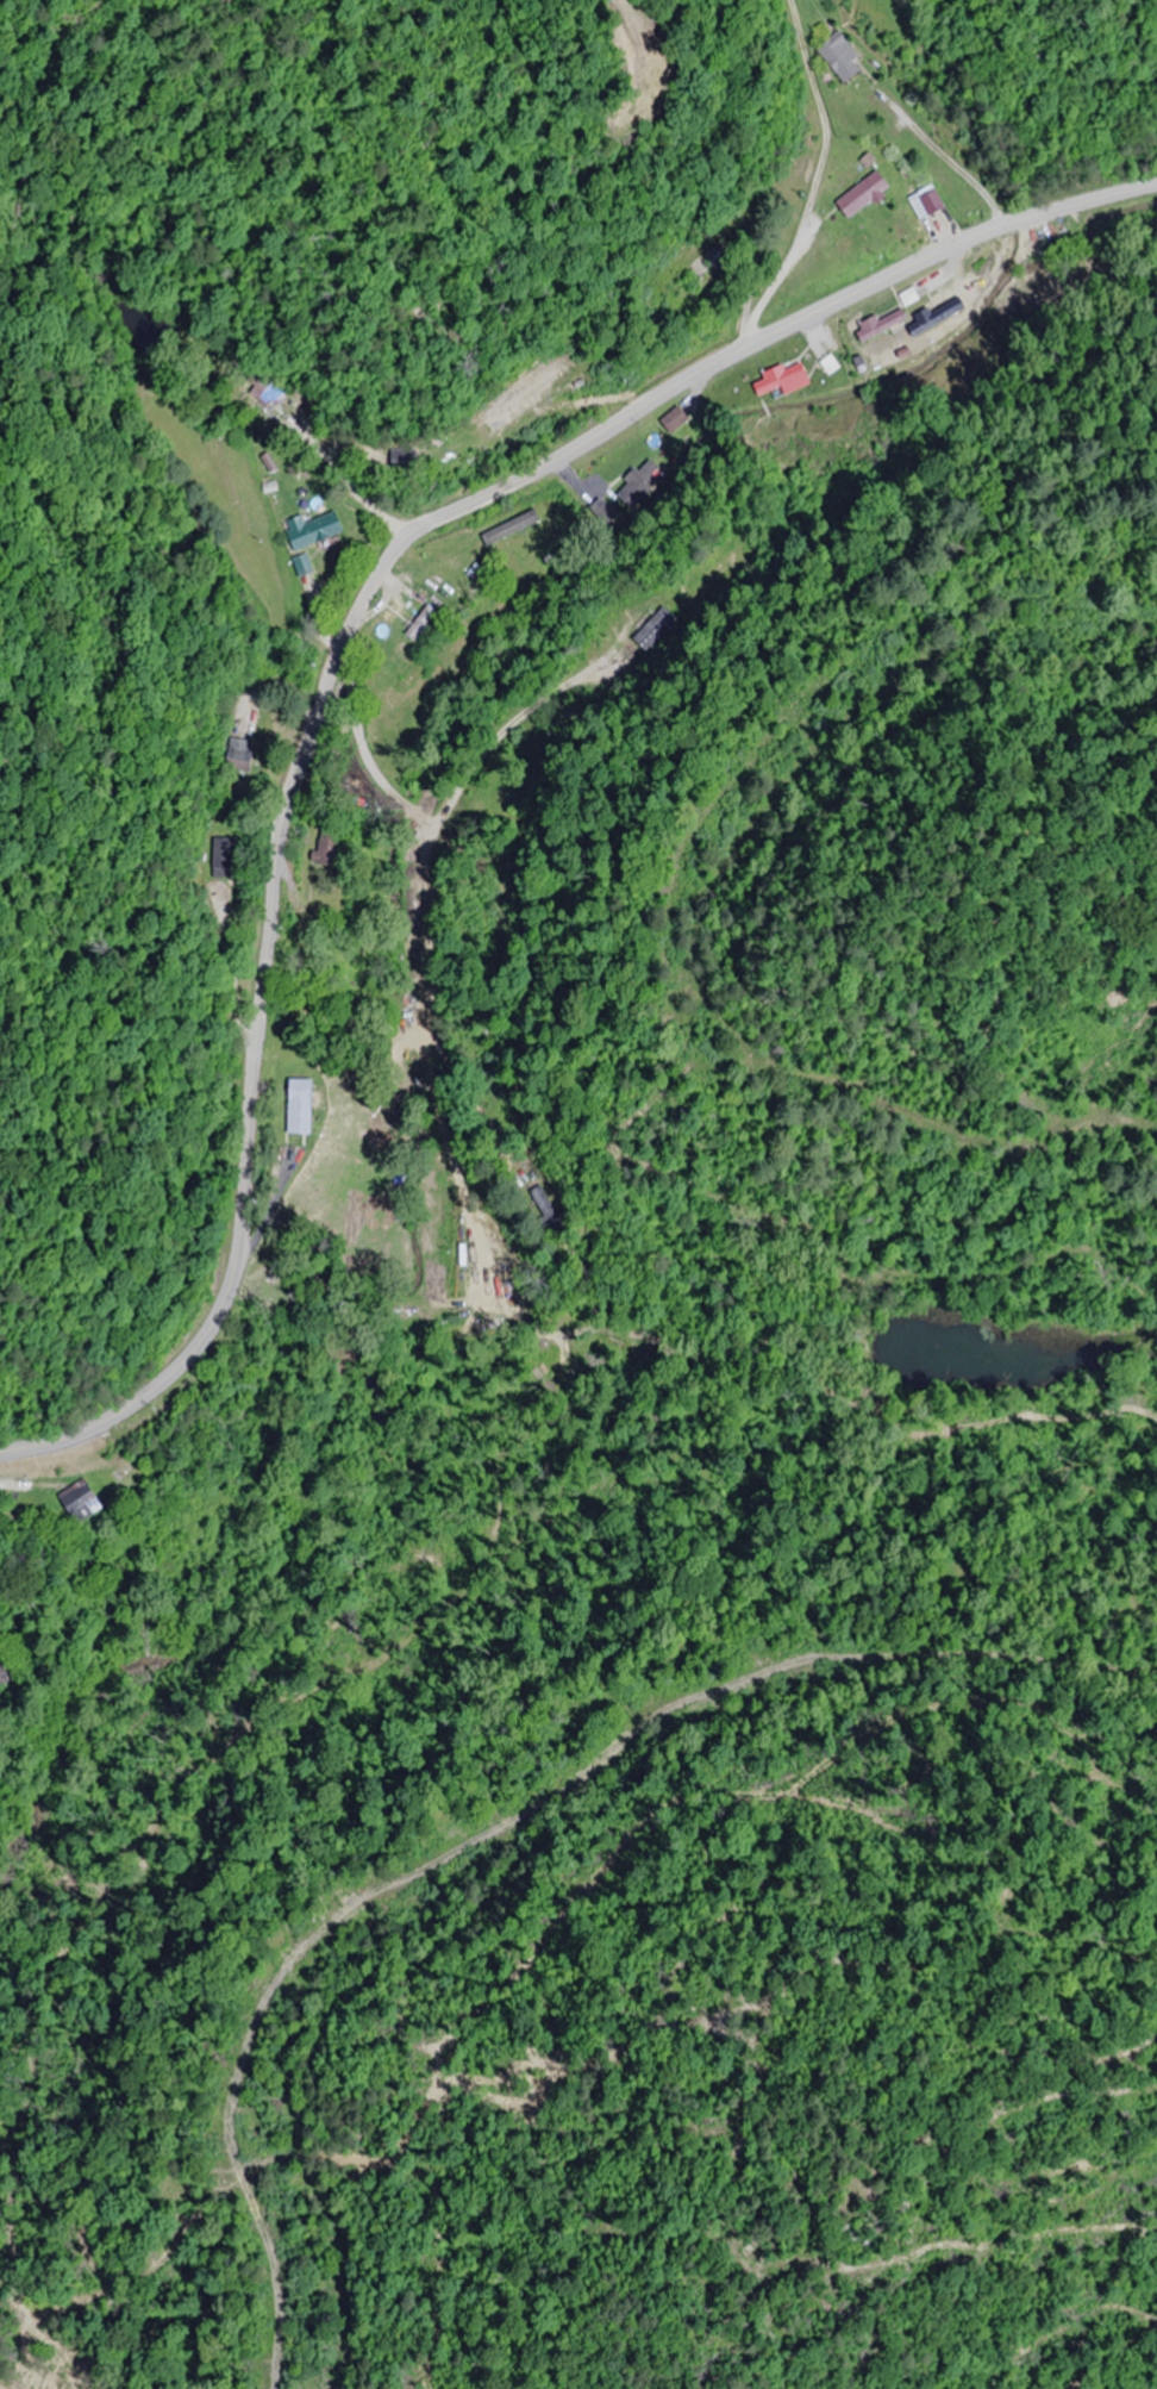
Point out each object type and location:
building: (844, 57)
road: (953, 164)
building: (867, 193)
building: (936, 201)
road: (1078, 205)
building: (724, 257)
building: (882, 324)
building: (782, 378)
building: (676, 419)
building: (404, 456)
building: (642, 484)
building: (315, 529)
building: (424, 623)
road: (317, 718)
building: (243, 755)
building: (330, 848)
building: (229, 857)
road: (429, 928)
building: (302, 1106)
building: (546, 1208)
building: (82, 1501)
building: (4, 1670)

